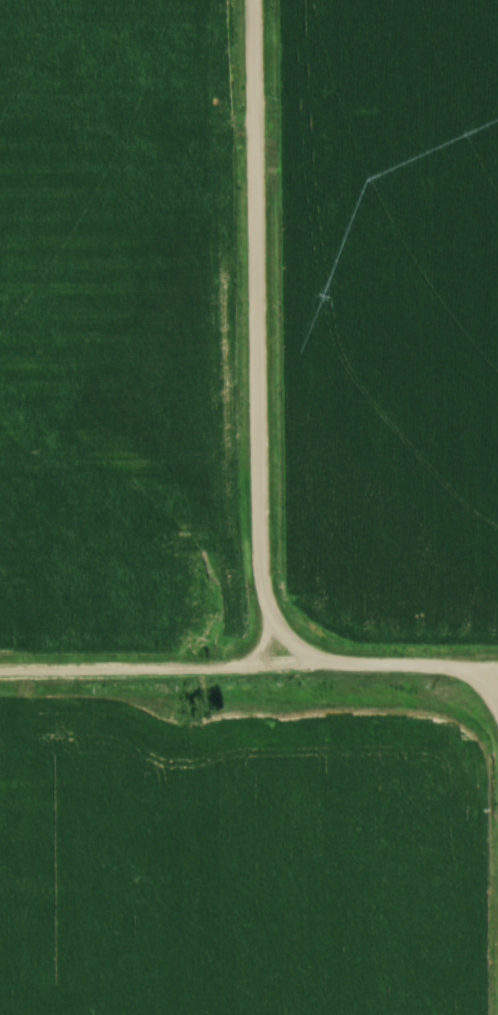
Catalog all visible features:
road: (251, 342)
road: (295, 653)
road: (249, 672)

